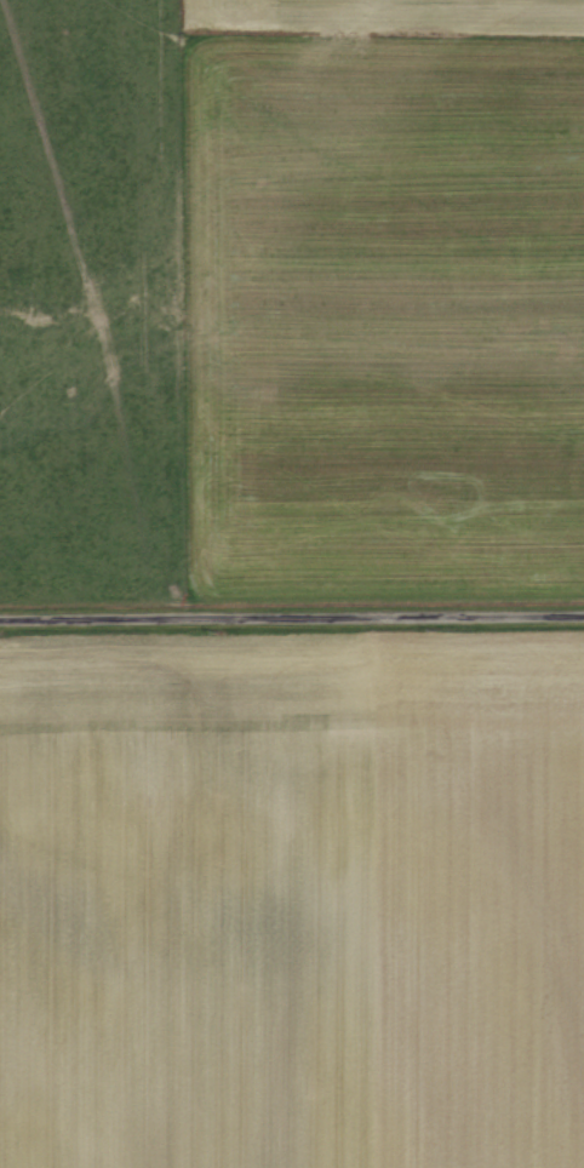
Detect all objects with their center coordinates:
road: (292, 614)

